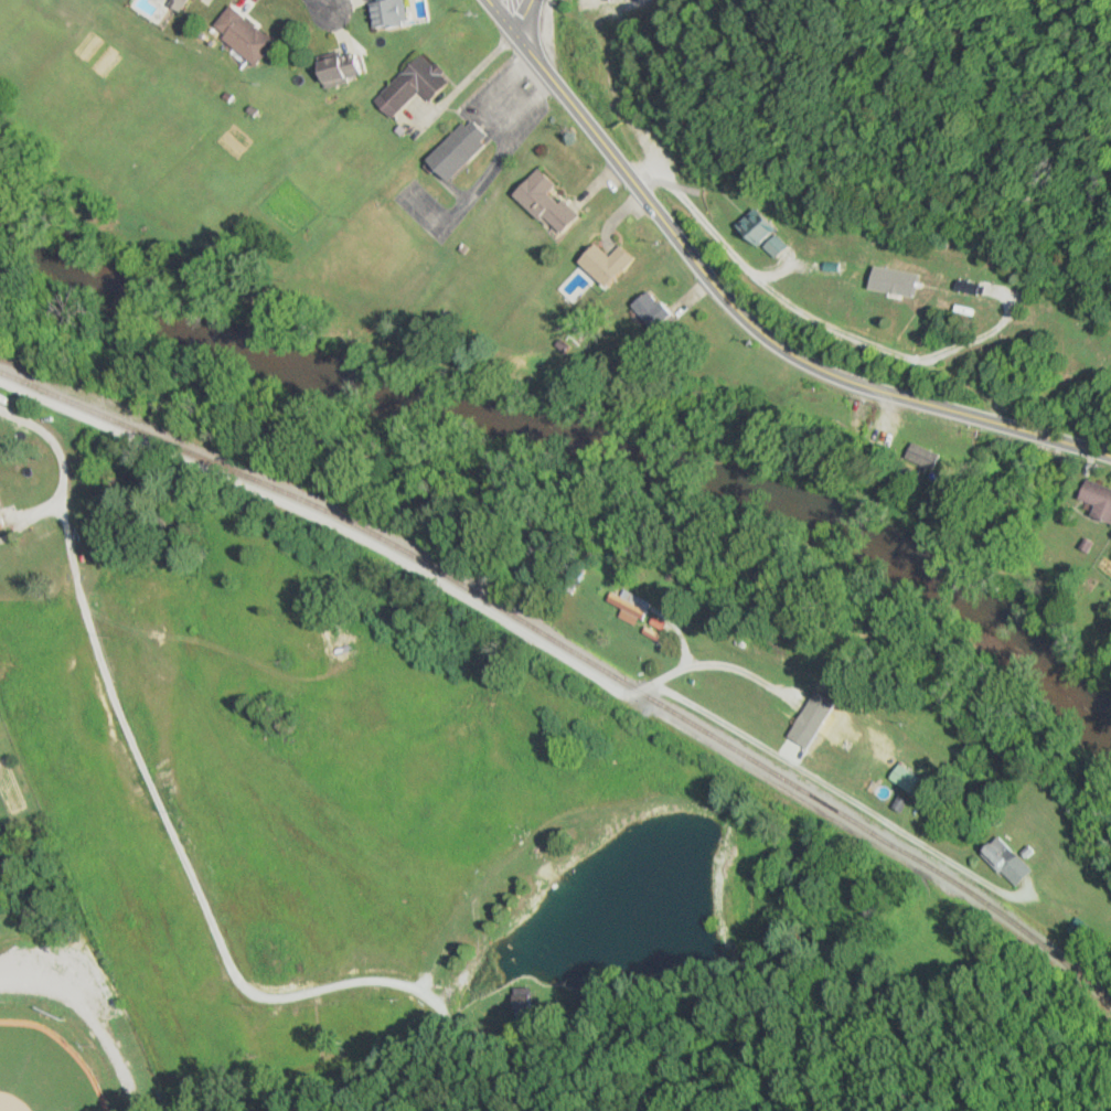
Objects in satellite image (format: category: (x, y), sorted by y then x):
road: (587, 2)
road: (320, 3)
building: (387, 13)
road: (520, 15)
building: (252, 34)
building: (346, 68)
building: (412, 84)
building: (455, 149)
building: (544, 203)
building: (763, 238)
building: (605, 264)
road: (740, 310)
building: (653, 311)
river: (576, 437)
building: (928, 458)
building: (1097, 499)
building: (6, 516)
building: (630, 605)
railway: (575, 652)
building: (806, 707)
building: (836, 728)
building: (902, 777)
building: (1005, 861)

